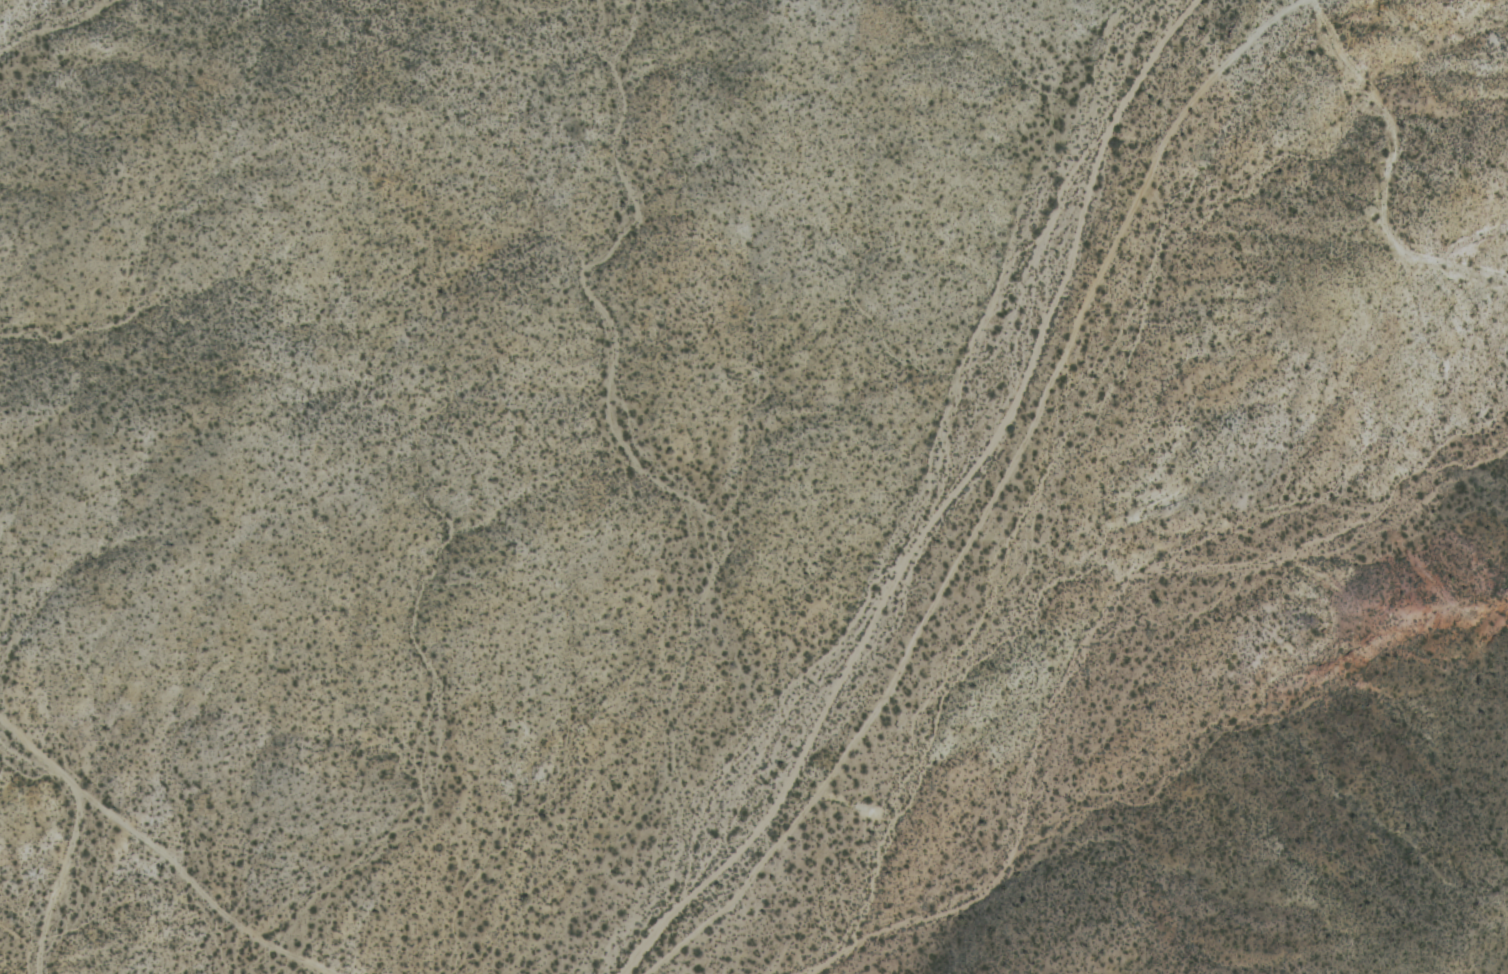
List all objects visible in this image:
road: (1009, 469)
road: (73, 829)
road: (184, 890)

